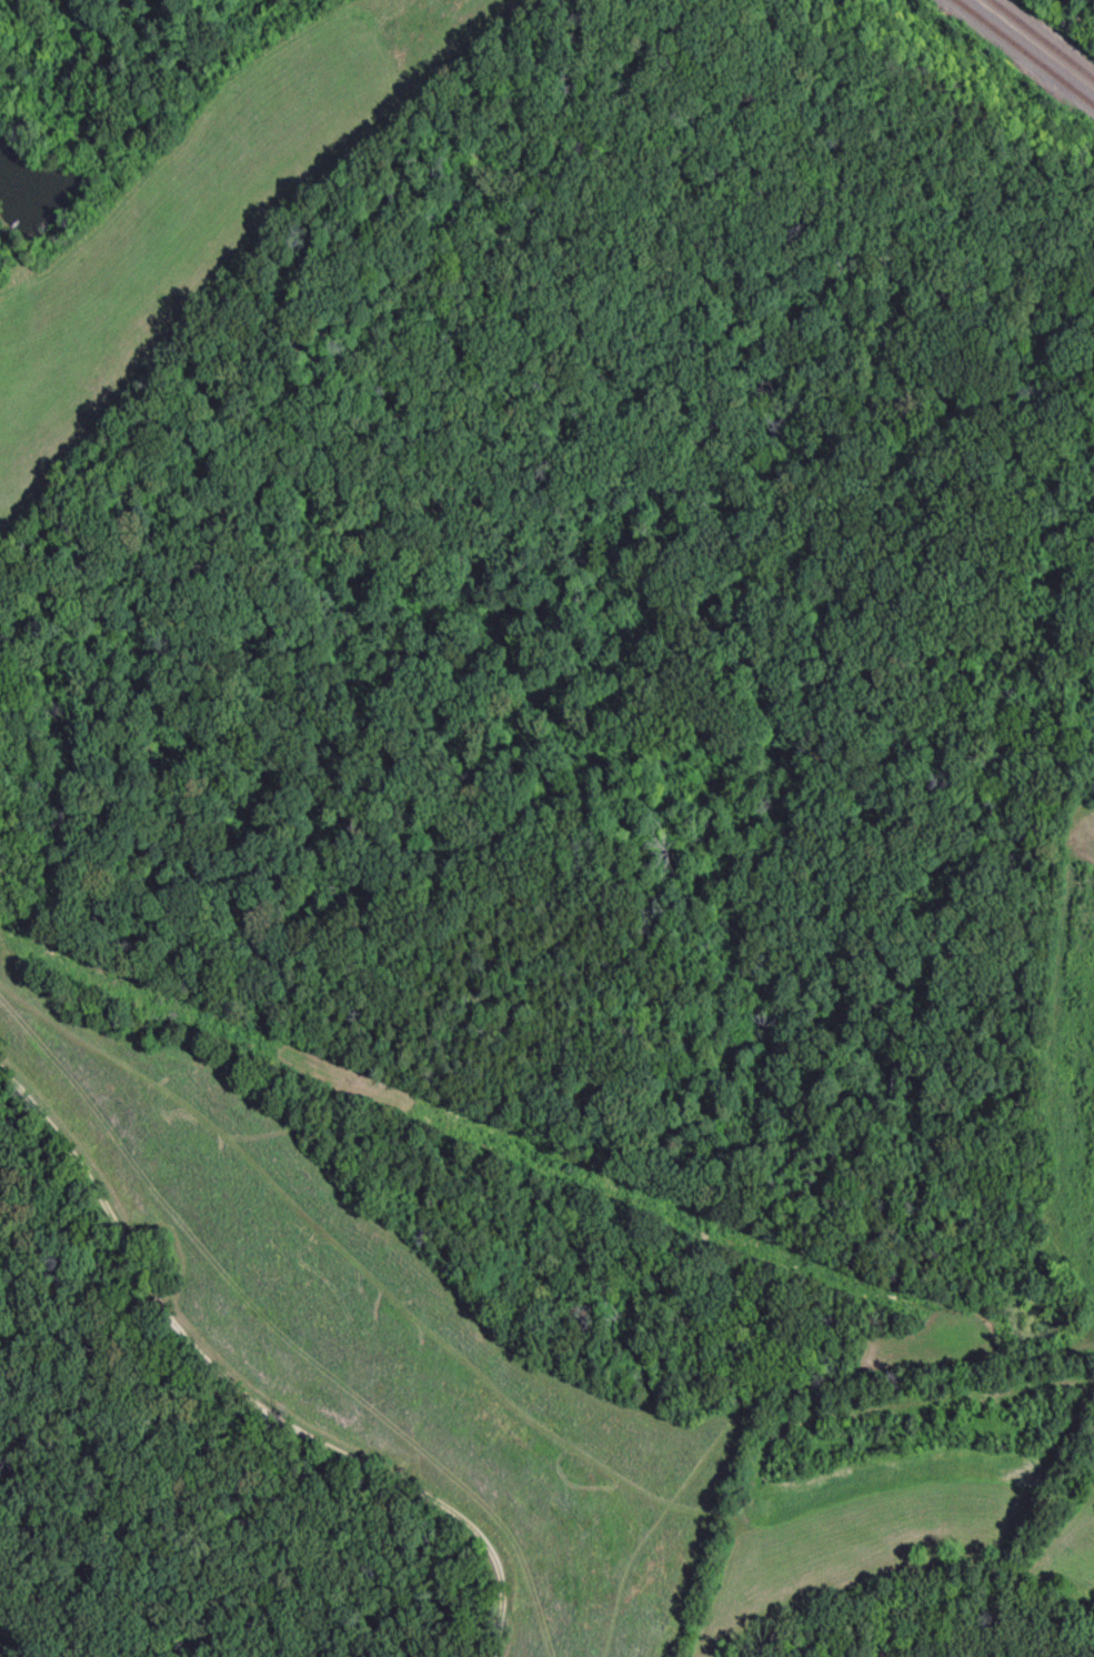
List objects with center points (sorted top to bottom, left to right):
railway: (1040, 41)
railway: (1023, 54)
road: (220, 1399)

